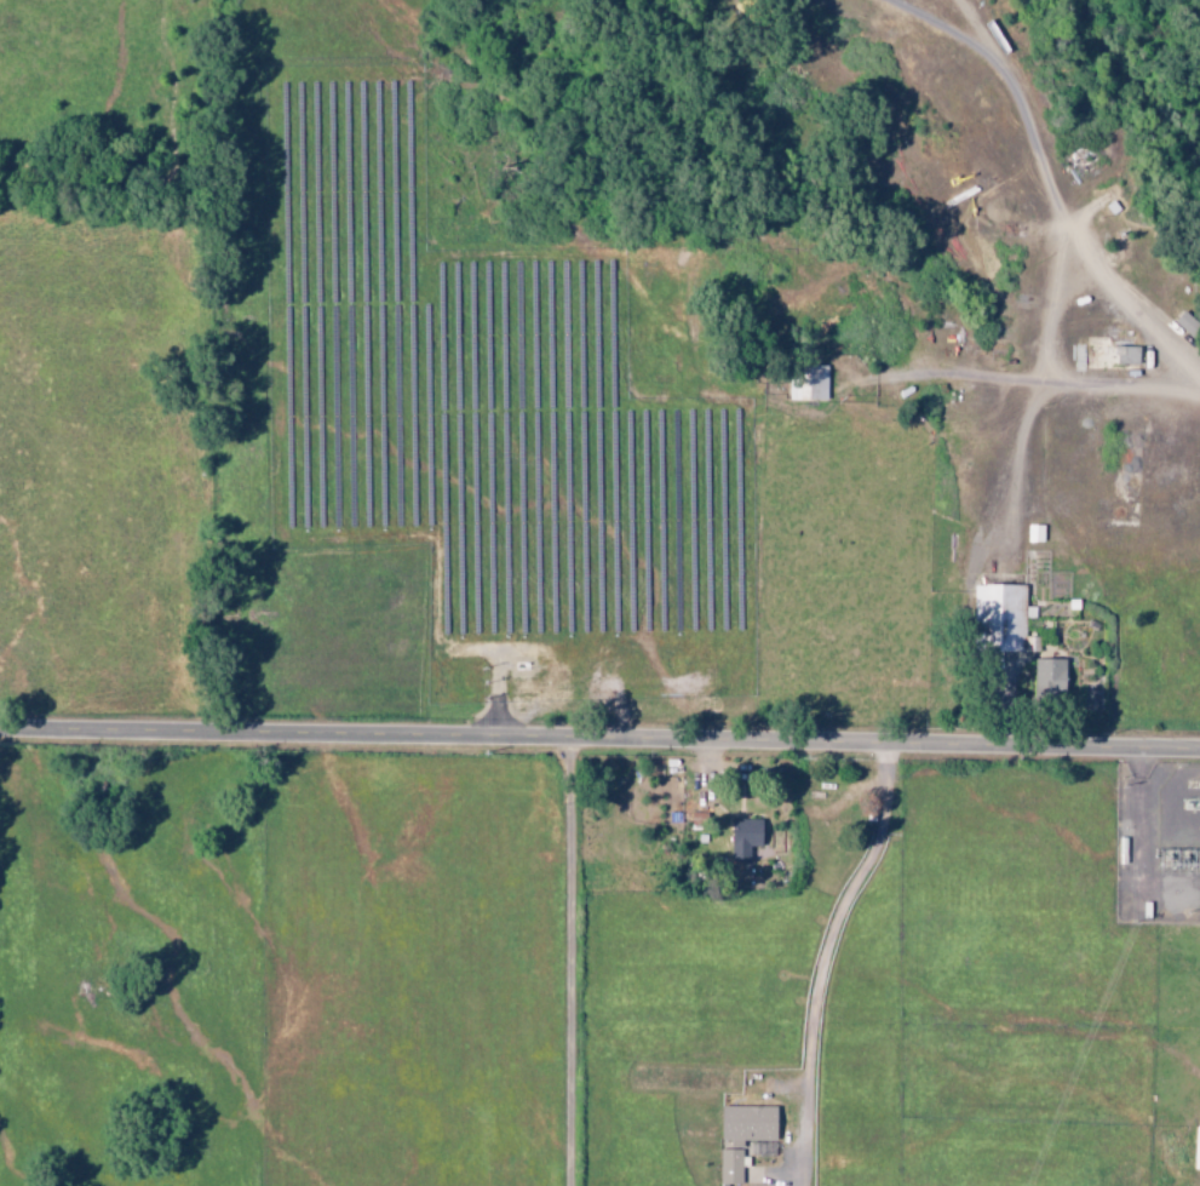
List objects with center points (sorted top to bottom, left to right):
road: (1068, 194)
building: (1189, 325)
building: (1129, 355)
building: (810, 382)
building: (1037, 533)
building: (1003, 612)
building: (1051, 677)
road: (599, 737)
building: (746, 837)
road: (574, 961)
building: (743, 1136)
building: (1198, 1148)

